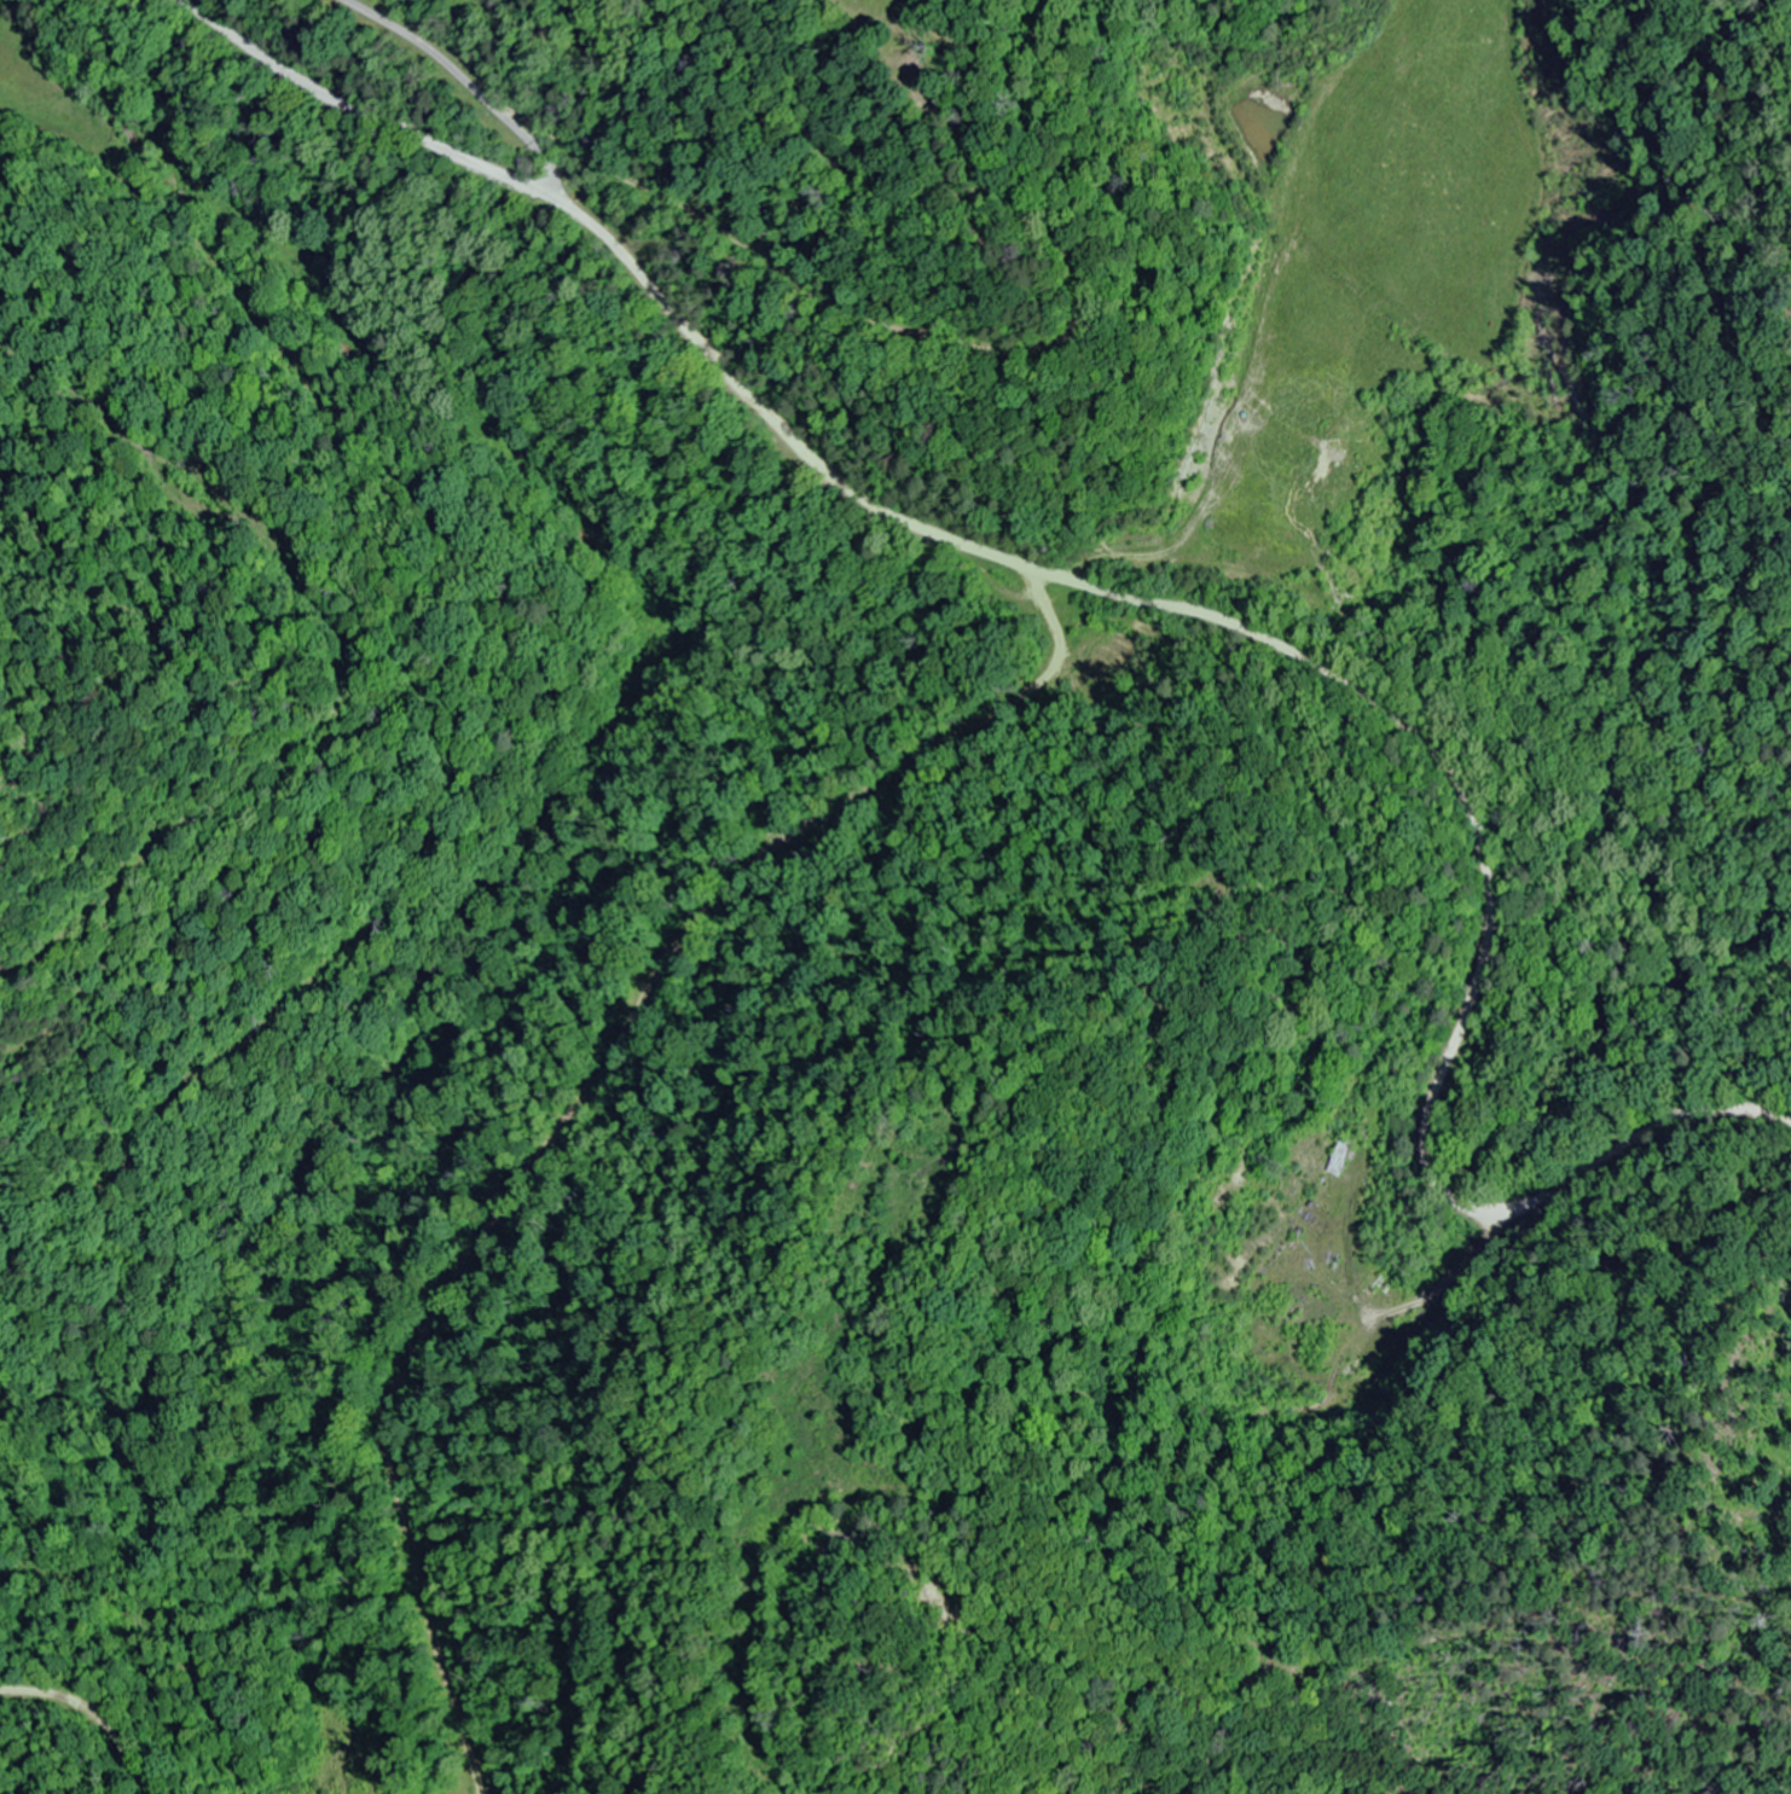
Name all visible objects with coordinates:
building: (1253, 378)
road: (1153, 600)
building: (1339, 1159)

